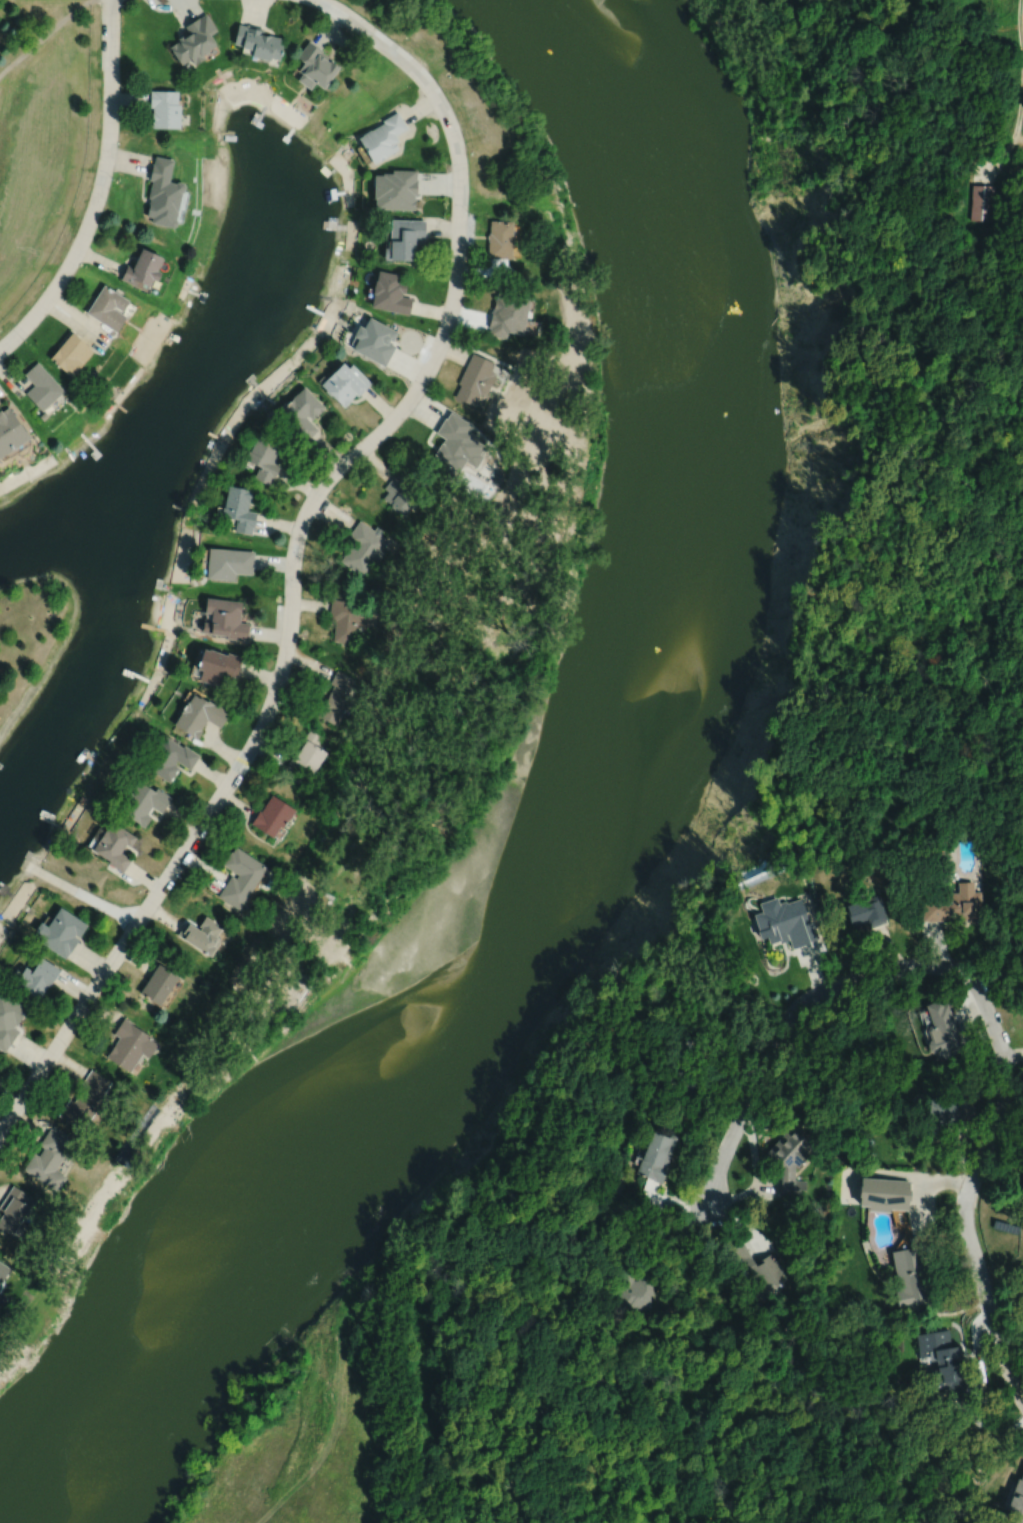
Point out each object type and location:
street lamp: (122, 5)
road: (1020, 25)
street lamp: (385, 33)
road: (43, 35)
building: (193, 41)
building: (257, 43)
building: (314, 67)
building: (164, 109)
road: (1020, 132)
building: (382, 138)
road: (1011, 142)
street lamp: (113, 179)
road: (99, 189)
building: (395, 190)
building: (162, 194)
building: (981, 203)
street lamp: (468, 212)
building: (404, 240)
building: (500, 240)
building: (141, 270)
building: (390, 295)
building: (106, 310)
building: (506, 316)
street lamp: (25, 341)
building: (374, 342)
building: (71, 355)
building: (475, 379)
building: (345, 384)
building: (42, 386)
street lamp: (428, 391)
building: (299, 413)
building: (43, 416)
building: (10, 430)
building: (455, 445)
building: (263, 456)
building: (400, 493)
building: (238, 508)
building: (363, 547)
road: (294, 548)
street lamp: (304, 556)
building: (227, 563)
building: (348, 618)
building: (224, 619)
park: (28, 636)
building: (215, 666)
building: (337, 698)
street lamp: (281, 702)
building: (198, 716)
building: (304, 757)
building: (169, 759)
building: (141, 803)
building: (271, 816)
river: (575, 822)
building: (112, 846)
street lamp: (179, 878)
building: (239, 878)
road: (80, 894)
building: (948, 903)
building: (867, 912)
building: (784, 923)
building: (61, 932)
building: (200, 937)
building: (36, 975)
building: (158, 984)
building: (9, 1017)
building: (631, 1017)
building: (944, 1028)
building: (131, 1044)
street lamp: (68, 1047)
building: (686, 1074)
building: (588, 1076)
road: (1005, 1094)
building: (86, 1100)
road: (744, 1107)
building: (944, 1111)
road: (963, 1140)
building: (656, 1153)
building: (49, 1158)
building: (790, 1158)
road: (757, 1172)
road: (896, 1173)
building: (884, 1192)
road: (920, 1203)
building: (15, 1208)
building: (602, 1227)
road: (665, 1236)
building: (1, 1263)
building: (758, 1271)
building: (912, 1273)
building: (0, 1278)
building: (634, 1289)
road: (707, 1362)
building: (945, 1362)
road: (980, 1388)
building: (1014, 1499)
road: (668, 1521)
road: (671, 1521)

